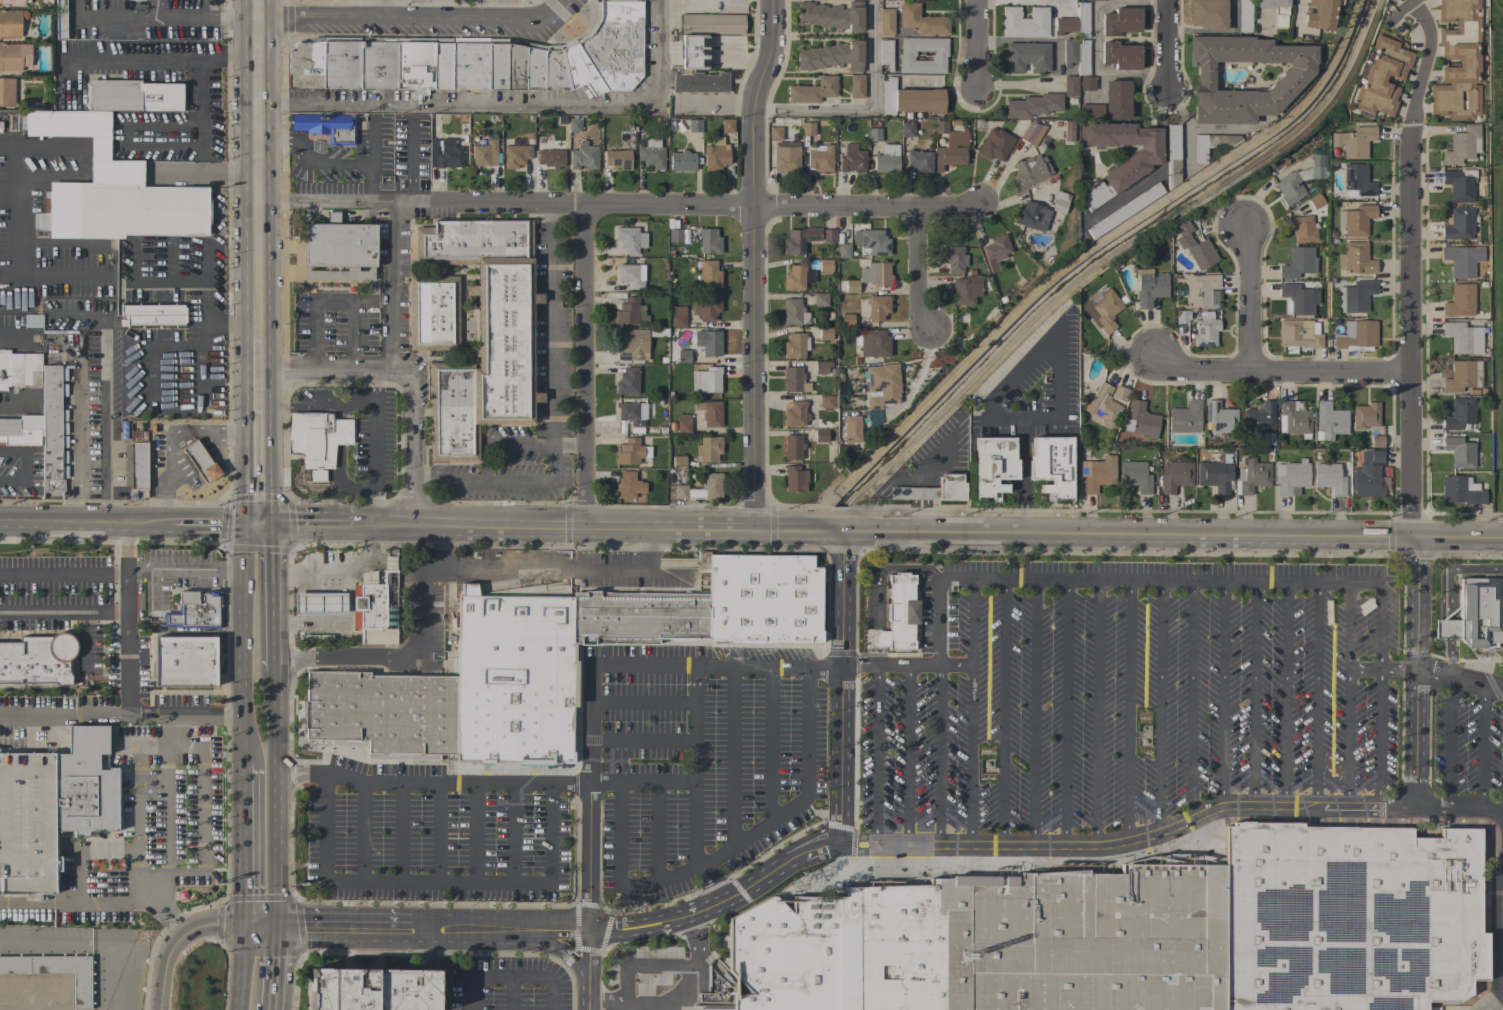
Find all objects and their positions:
building: (618, 0)
building: (1095, 0)
building: (12, 2)
building: (1276, 10)
building: (1208, 14)
road: (1293, 14)
building: (1321, 14)
building: (831, 15)
building: (1244, 16)
building: (59, 18)
road: (200, 18)
building: (886, 21)
building: (922, 21)
building: (1120, 21)
building: (11, 22)
road: (427, 22)
building: (1024, 22)
building: (1074, 22)
building: (712, 23)
road: (979, 41)
road: (1169, 43)
building: (615, 44)
building: (692, 52)
building: (885, 54)
building: (1076, 54)
building: (906, 55)
building: (1120, 55)
building: (832, 56)
building: (1027, 56)
building: (10, 57)
road: (70, 61)
building: (1458, 61)
building: (342, 63)
building: (379, 64)
building: (415, 64)
building: (443, 64)
building: (471, 64)
building: (499, 64)
building: (306, 65)
building: (517, 65)
building: (535, 67)
building: (554, 67)
building: (579, 68)
park: (1496, 75)
building: (1382, 77)
building: (1293, 78)
building: (698, 82)
building: (1086, 83)
building: (856, 86)
building: (1070, 86)
building: (813, 90)
building: (7, 91)
building: (133, 96)
road: (706, 98)
building: (909, 99)
building: (1116, 100)
road: (200, 105)
road: (505, 105)
building: (1033, 105)
road: (867, 110)
building: (1090, 111)
building: (573, 124)
building: (694, 125)
building: (727, 126)
building: (327, 127)
building: (807, 128)
building: (907, 128)
building: (1067, 131)
building: (873, 132)
building: (1031, 133)
building: (774, 134)
road: (371, 141)
building: (1354, 141)
road: (10, 144)
building: (949, 145)
building: (1211, 145)
building: (1462, 145)
building: (992, 148)
building: (515, 153)
building: (484, 154)
building: (651, 154)
road: (310, 155)
building: (447, 155)
building: (715, 155)
building: (1172, 155)
building: (583, 157)
building: (550, 158)
building: (785, 158)
building: (820, 158)
building: (617, 159)
building: (851, 159)
building: (887, 159)
road: (410, 161)
building: (682, 161)
building: (919, 161)
road: (259, 164)
building: (1318, 166)
building: (1130, 168)
road: (1162, 169)
building: (1030, 171)
road: (74, 178)
building: (1357, 181)
road: (368, 183)
building: (1459, 184)
building: (1292, 185)
building: (111, 189)
building: (1315, 200)
building: (1060, 202)
road: (619, 209)
building: (1124, 211)
building: (1031, 216)
building: (1356, 220)
road: (21, 224)
building: (1459, 224)
building: (1302, 229)
building: (678, 235)
building: (828, 236)
building: (629, 239)
building: (799, 240)
building: (709, 241)
building: (871, 242)
building: (1194, 246)
building: (339, 250)
building: (843, 250)
building: (995, 251)
building: (954, 259)
building: (1355, 259)
building: (1462, 260)
road: (756, 263)
building: (1298, 263)
building: (825, 265)
road: (172, 266)
road: (918, 272)
road: (63, 274)
building: (708, 274)
building: (630, 275)
building: (870, 276)
building: (794, 277)
road: (206, 284)
road: (1410, 284)
road: (146, 288)
road: (392, 289)
building: (1149, 289)
building: (964, 291)
building: (1201, 291)
building: (1355, 296)
building: (1298, 298)
building: (819, 299)
road: (1253, 300)
road: (331, 301)
building: (1459, 301)
building: (706, 307)
building: (877, 307)
building: (152, 309)
building: (1104, 310)
building: (627, 311)
building: (794, 312)
building: (433, 313)
building: (1182, 316)
building: (678, 317)
building: (846, 320)
building: (153, 321)
building: (1205, 330)
building: (658, 332)
road: (13, 333)
road: (261, 334)
building: (483, 334)
building: (825, 334)
building: (1297, 335)
building: (1357, 337)
building: (1463, 337)
building: (711, 343)
building: (872, 343)
building: (632, 344)
building: (794, 345)
road: (178, 346)
building: (682, 356)
road: (587, 367)
building: (821, 367)
road: (204, 368)
building: (19, 369)
road: (1061, 369)
road: (169, 371)
road: (1280, 374)
road: (413, 375)
building: (1462, 376)
building: (709, 379)
building: (793, 380)
building: (627, 381)
building: (884, 388)
road: (103, 392)
building: (1119, 393)
building: (826, 402)
building: (1103, 405)
road: (317, 407)
road: (551, 412)
building: (632, 413)
building: (709, 413)
building: (794, 414)
building: (1460, 415)
building: (1366, 416)
building: (1220, 417)
building: (1185, 418)
building: (1259, 418)
building: (1294, 419)
building: (873, 420)
building: (1141, 421)
building: (1329, 421)
building: (683, 424)
road: (219, 428)
building: (850, 429)
building: (53, 430)
building: (21, 431)
road: (261, 432)
road: (243, 433)
building: (820, 436)
building: (317, 441)
building: (1377, 441)
road: (569, 445)
building: (792, 447)
building: (708, 449)
road: (371, 450)
road: (76, 451)
road: (168, 451)
building: (631, 452)
building: (1459, 452)
road: (197, 457)
building: (200, 462)
building: (678, 462)
road: (25, 464)
building: (136, 465)
building: (993, 466)
building: (1052, 466)
building: (1097, 473)
building: (1135, 476)
building: (1175, 476)
building: (1214, 476)
building: (1368, 476)
building: (1252, 477)
building: (1291, 477)
building: (1329, 478)
building: (795, 479)
building: (628, 485)
building: (701, 489)
building: (932, 490)
building: (1461, 490)
road: (162, 493)
road: (86, 524)
road: (216, 526)
traffic signals: (261, 526)
road: (309, 526)
road: (929, 530)
road: (126, 548)
road: (565, 568)
road: (184, 570)
road: (1452, 571)
road: (338, 576)
road: (1067, 577)
road: (125, 591)
building: (715, 593)
road: (273, 597)
building: (749, 600)
building: (319, 603)
building: (796, 603)
building: (370, 605)
building: (196, 610)
building: (898, 614)
building: (1476, 614)
building: (591, 617)
building: (578, 618)
building: (606, 618)
building: (622, 618)
building: (639, 618)
building: (689, 619)
road: (971, 621)
road: (334, 624)
building: (520, 629)
road: (1446, 629)
road: (243, 641)
road: (417, 656)
road: (1451, 657)
building: (37, 660)
building: (184, 661)
road: (953, 665)
road: (588, 667)
road: (1362, 668)
road: (1396, 668)
road: (1414, 672)
road: (1458, 679)
road: (841, 689)
road: (1221, 693)
road: (1253, 693)
road: (1285, 693)
road: (1316, 693)
road: (1345, 693)
road: (1378, 693)
road: (1190, 699)
road: (641, 702)
road: (1160, 705)
building: (339, 706)
building: (508, 709)
road: (1127, 710)
building: (386, 711)
building: (431, 712)
road: (1002, 712)
road: (1033, 713)
road: (1065, 713)
road: (1096, 713)
road: (135, 714)
road: (102, 715)
road: (37, 716)
building: (310, 719)
building: (412, 740)
road: (641, 741)
road: (769, 742)
road: (1449, 743)
building: (375, 744)
road: (1482, 746)
road: (732, 754)
road: (939, 756)
road: (875, 757)
road: (907, 757)
road: (970, 757)
road: (693, 765)
road: (431, 784)
road: (641, 784)
road: (805, 793)
road: (275, 797)
building: (52, 806)
road: (202, 814)
road: (656, 831)
road: (164, 832)
road: (361, 832)
road: (400, 833)
road: (437, 833)
road: (474, 833)
road: (512, 833)
road: (243, 844)
road: (885, 849)
road: (619, 877)
road: (433, 882)
road: (707, 885)
road: (77, 901)
traffic signals: (243, 925)
traffic signals: (276, 925)
building: (1183, 930)
road: (189, 931)
road: (1494, 931)
road: (425, 932)
road: (58, 942)
road: (529, 944)
road: (143, 949)
road: (428, 953)
building: (785, 954)
road: (589, 963)
road: (643, 964)
road: (243, 967)
road: (275, 967)
building: (54, 972)
road: (116, 978)
road: (508, 978)
road: (685, 983)
road: (427, 988)
building: (372, 989)
road: (510, 994)
road: (605, 1000)
road: (587, 1005)

